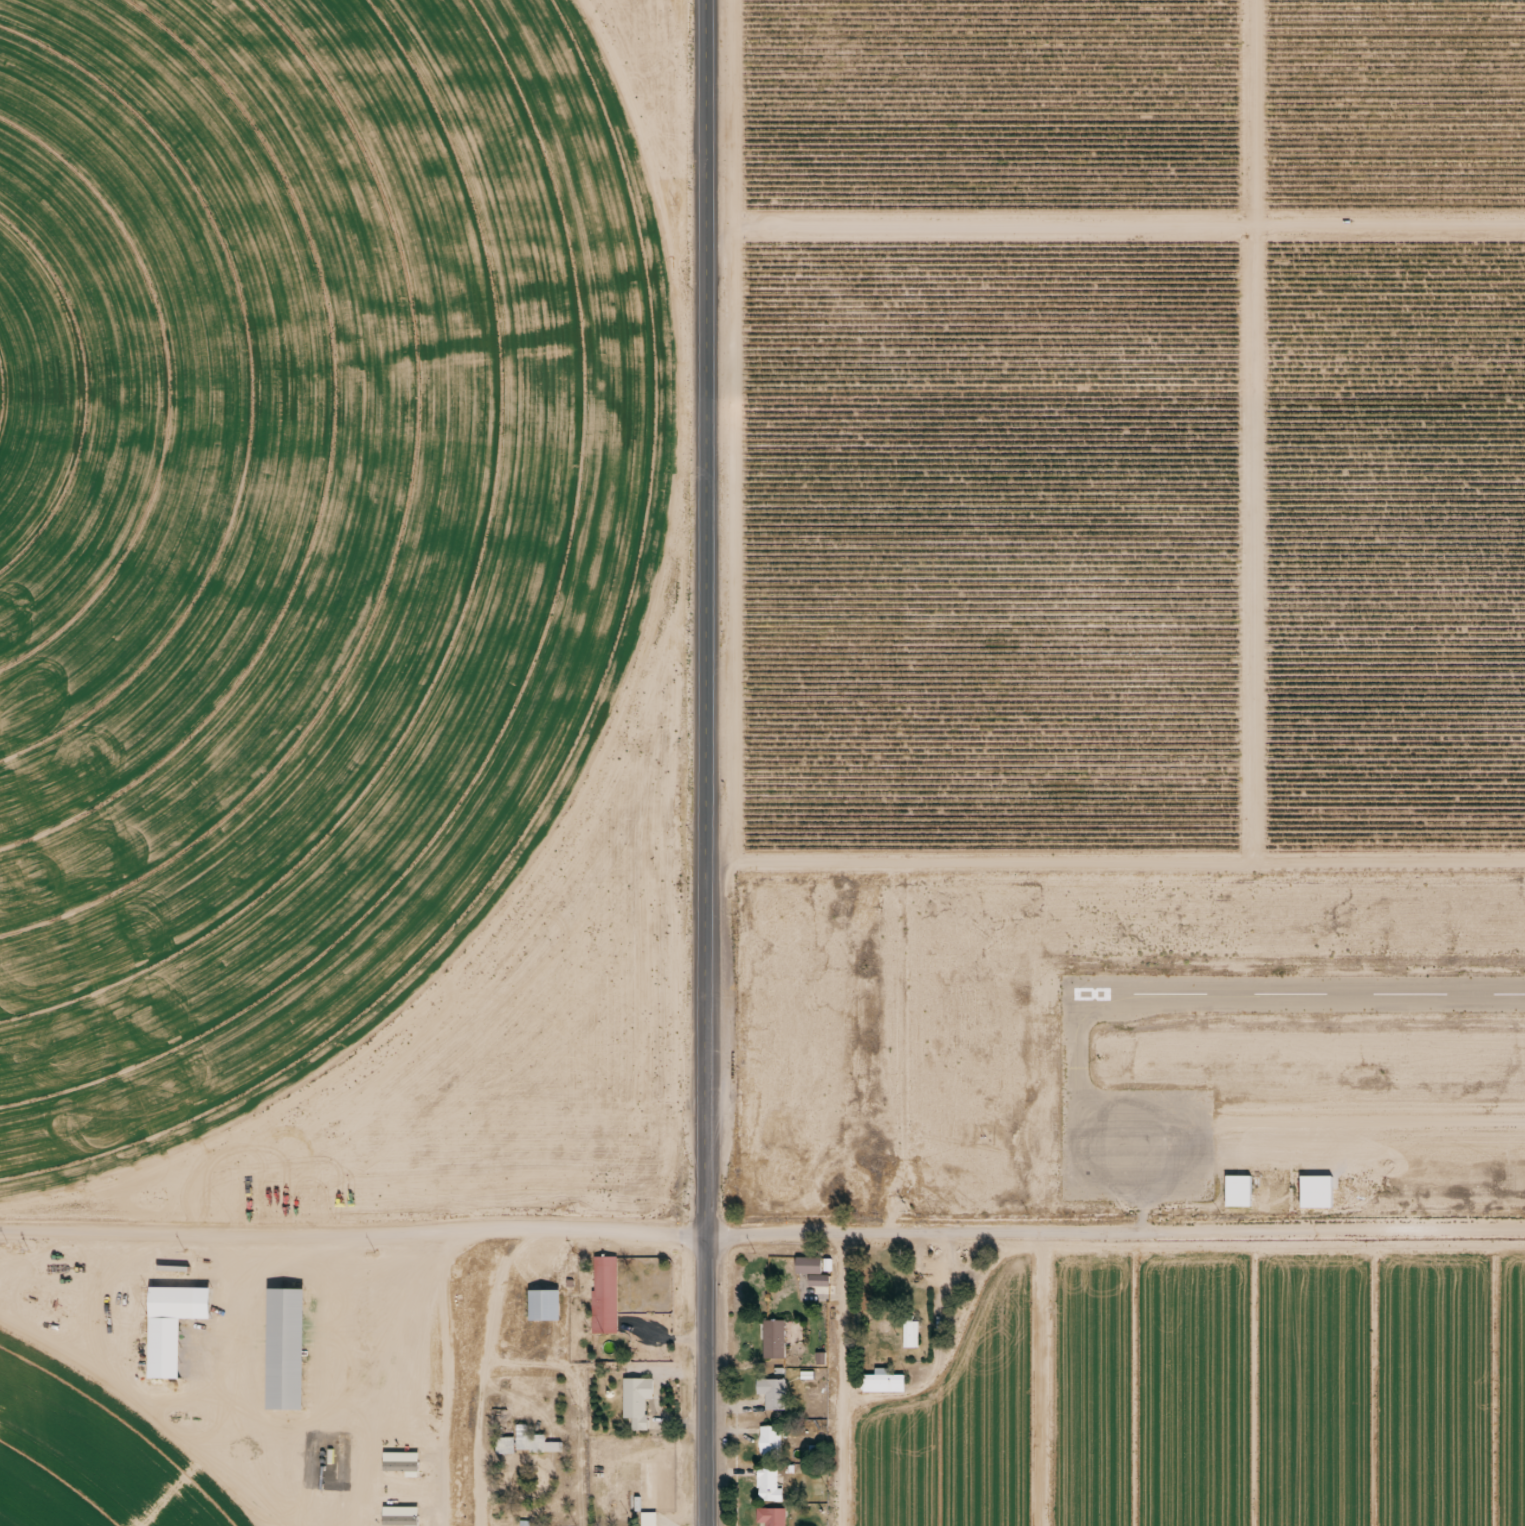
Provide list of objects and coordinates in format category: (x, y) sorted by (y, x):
road: (703, 411)
crop: (290, 514)
airport runway: (1300, 994)
airport taxiway: (1075, 1042)
airport: (1133, 1049)
airport apron: (1138, 1146)
road: (709, 1174)
building: (1240, 1197)
road: (1142, 1218)
road: (355, 1230)
road: (1117, 1234)
building: (807, 1265)
building: (818, 1287)
building: (608, 1299)
building: (546, 1309)
building: (175, 1331)
building: (912, 1338)
building: (778, 1344)
building: (288, 1352)
road: (482, 1369)
road: (575, 1376)
road: (844, 1381)
building: (886, 1387)
crop: (1217, 1395)
building: (775, 1398)
building: (643, 1408)
building: (523, 1443)
building: (773, 1448)
crop: (65, 1487)
building: (770, 1493)
building: (647, 1518)
building: (774, 1519)

